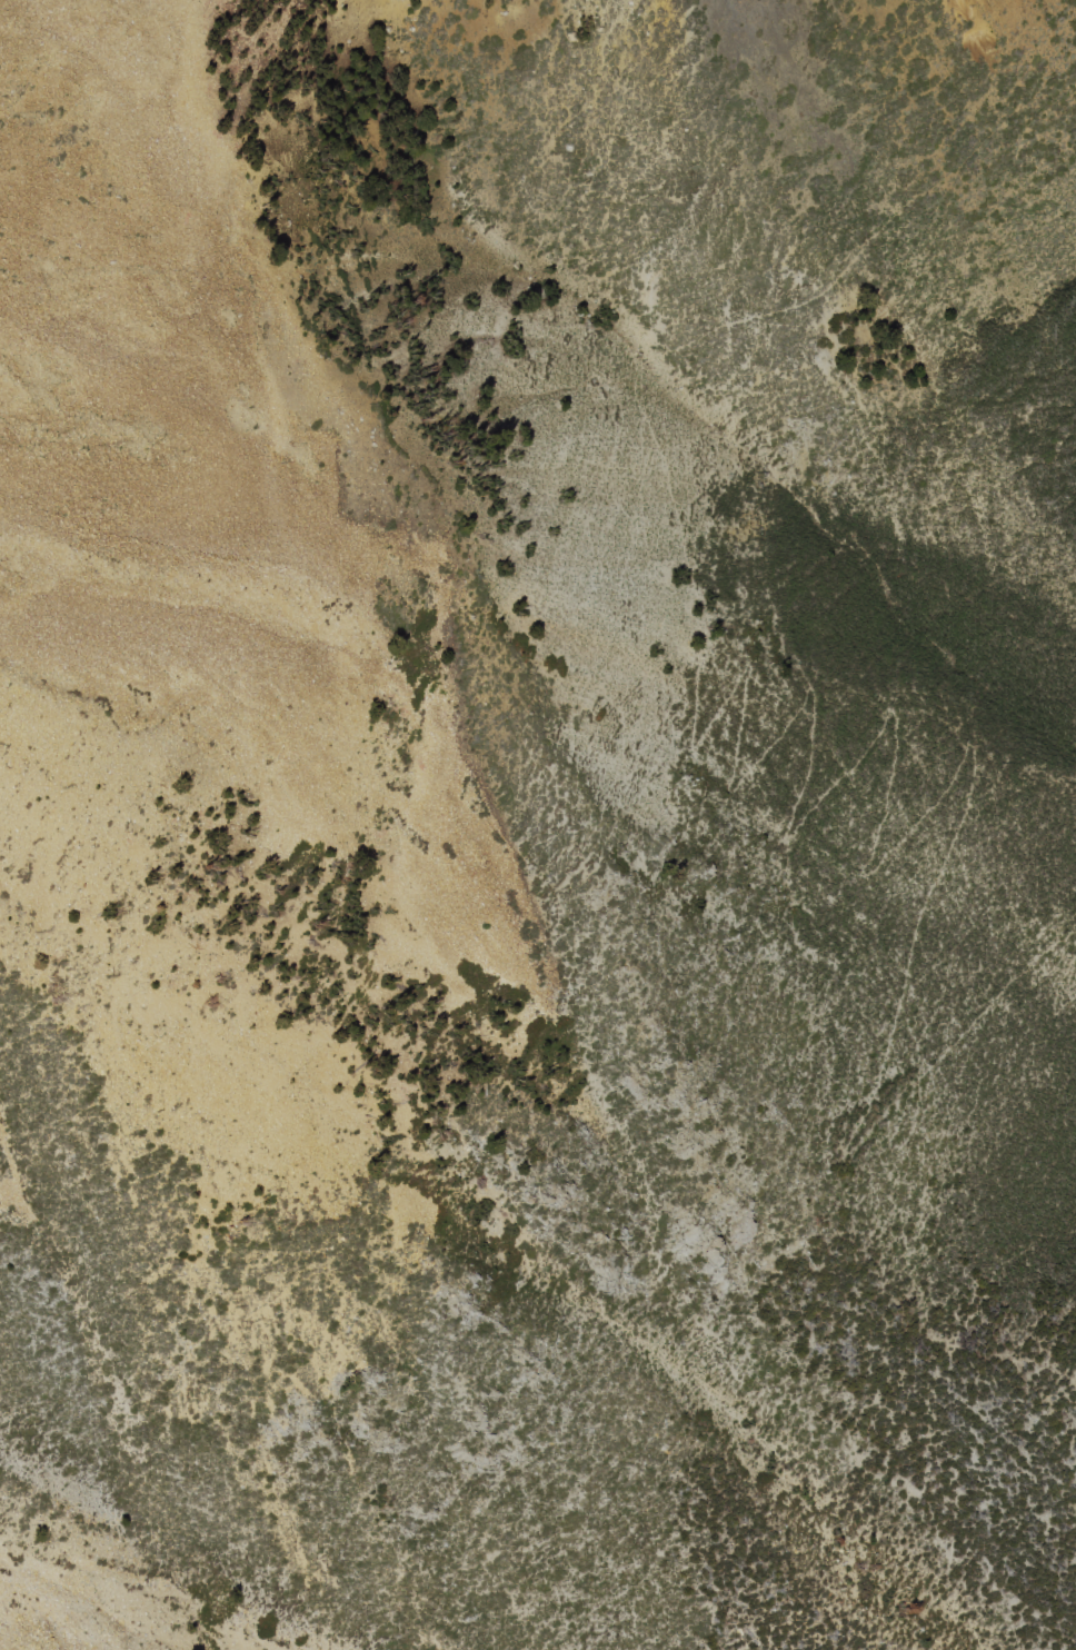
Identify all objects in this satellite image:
road: (808, 764)
road: (1055, 993)

